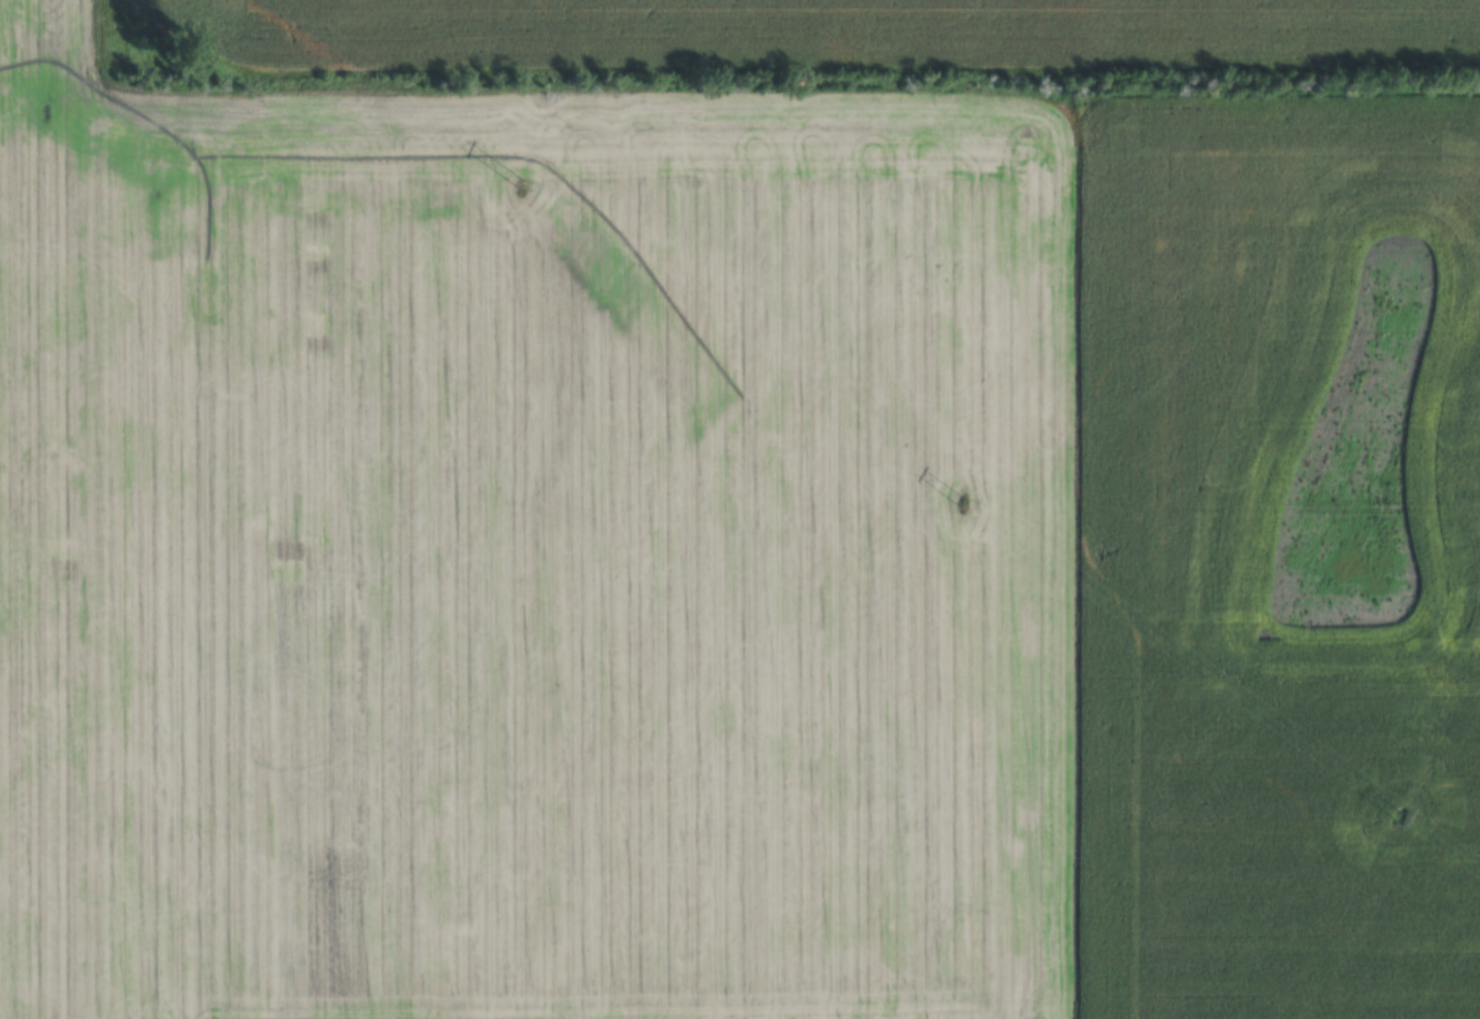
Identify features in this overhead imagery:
power tower: (523, 181)
power tower: (964, 502)
power tower: (1397, 817)

